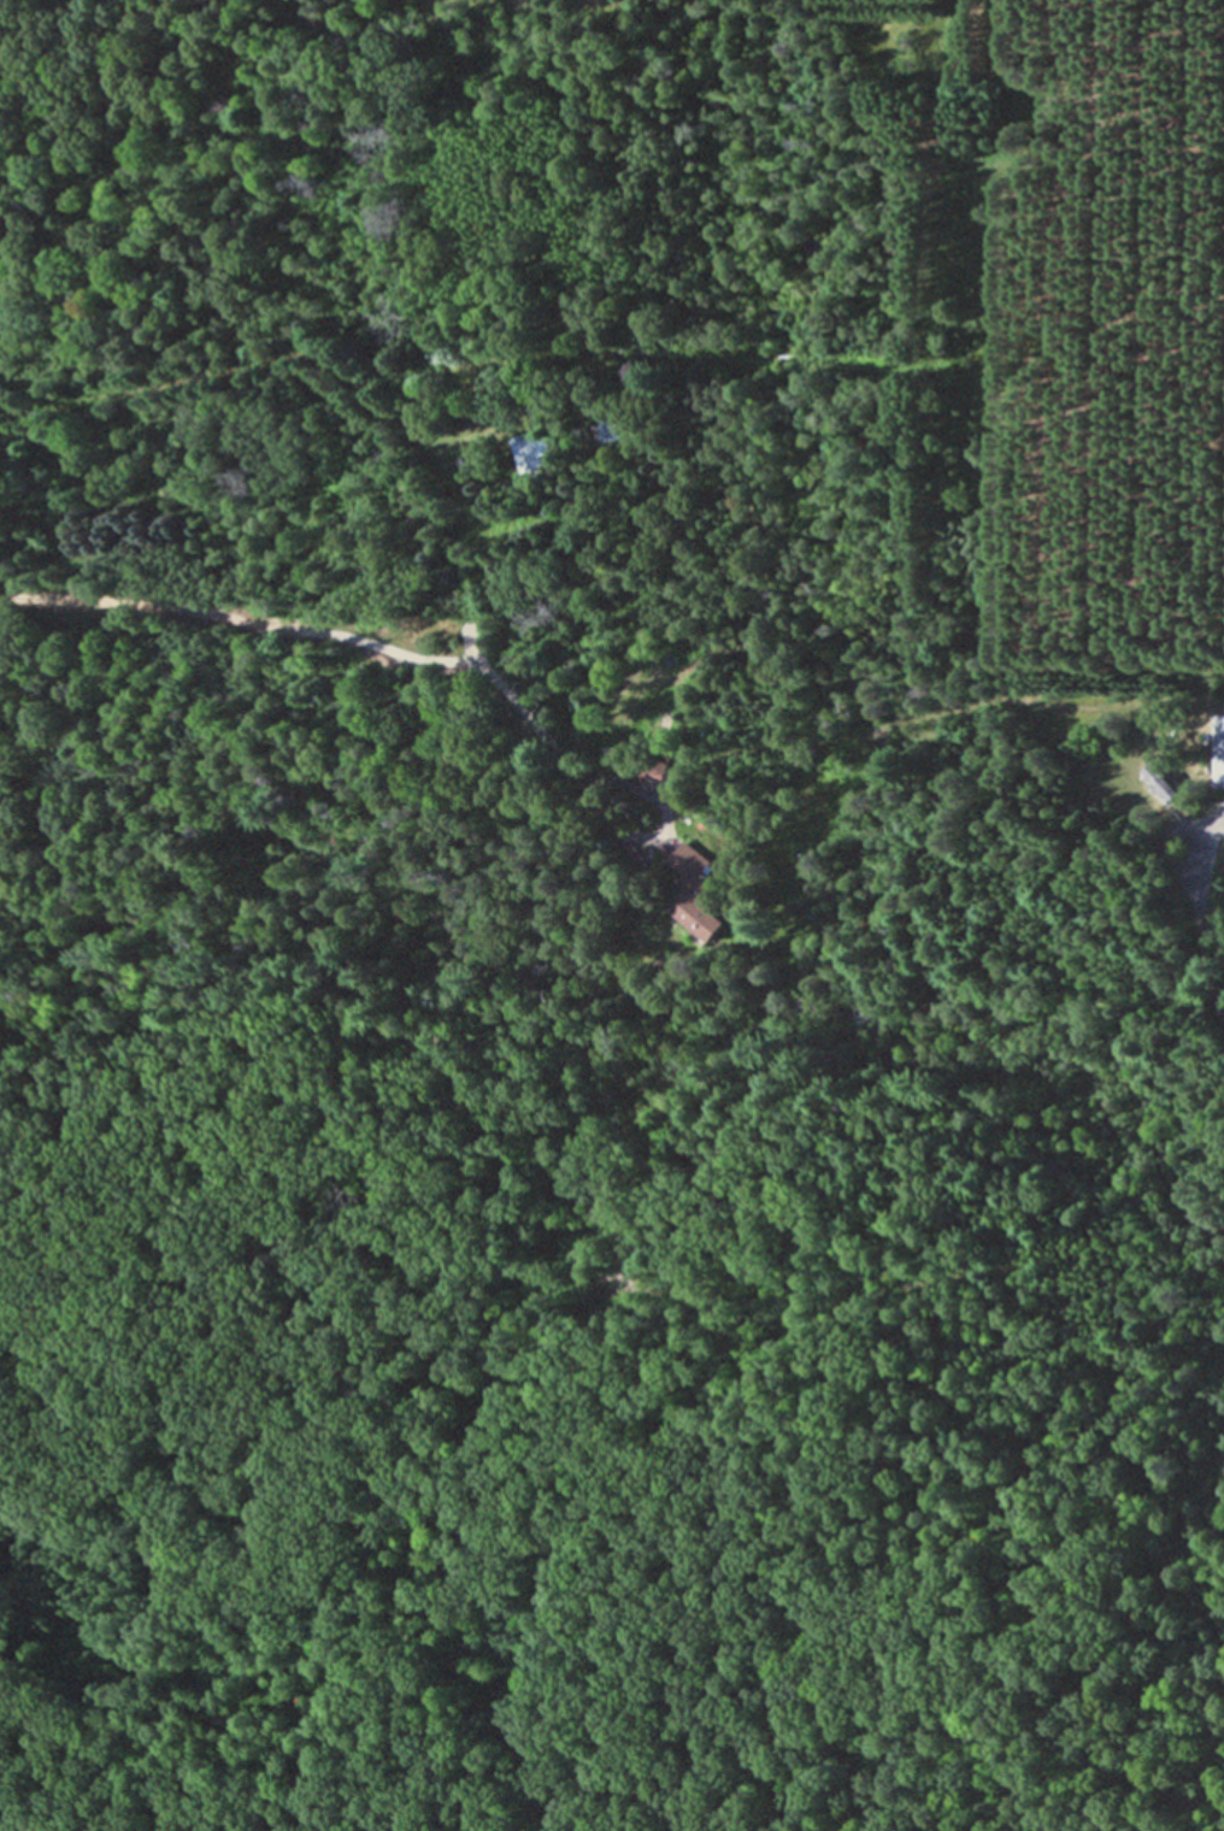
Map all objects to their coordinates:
road: (228, 365)
building: (601, 431)
building: (526, 453)
road: (531, 731)
building: (1220, 753)
building: (687, 888)
road: (1199, 941)

